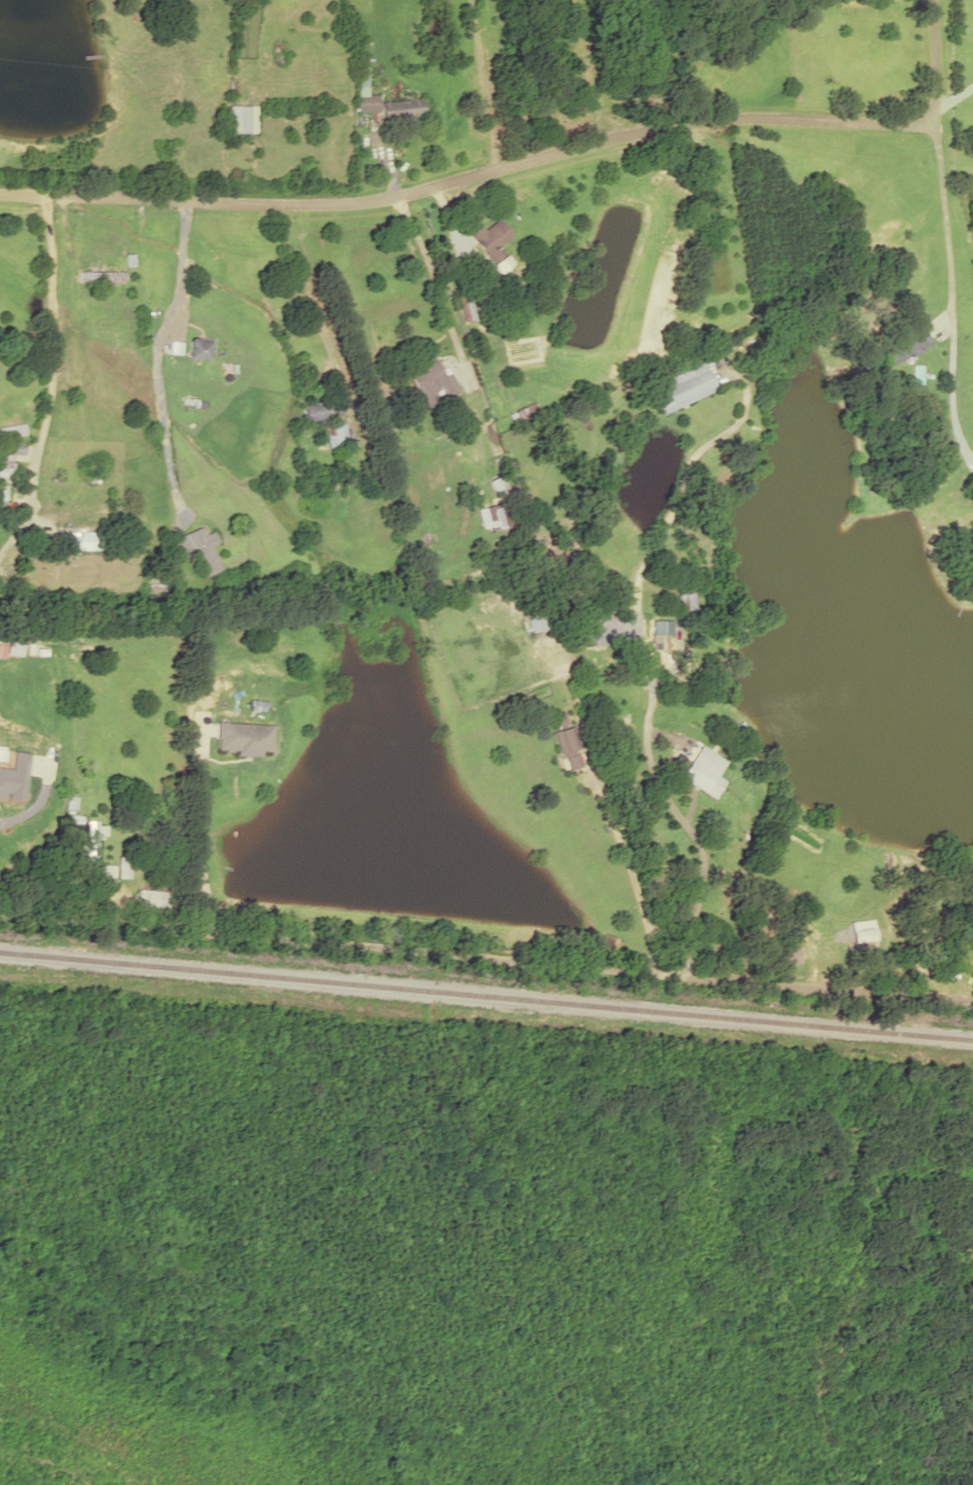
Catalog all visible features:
building: (364, 94)
building: (401, 109)
building: (241, 120)
road: (526, 161)
building: (100, 276)
building: (464, 308)
building: (909, 342)
building: (197, 348)
building: (430, 376)
road: (47, 385)
building: (681, 387)
building: (320, 409)
building: (11, 430)
building: (335, 434)
building: (4, 474)
building: (489, 516)
building: (80, 540)
building: (199, 548)
building: (681, 602)
building: (534, 621)
building: (660, 627)
road: (641, 665)
building: (566, 748)
building: (700, 769)
building: (10, 820)
building: (91, 838)
building: (150, 899)
building: (856, 936)
building: (786, 955)
road: (486, 956)
railway: (486, 988)

